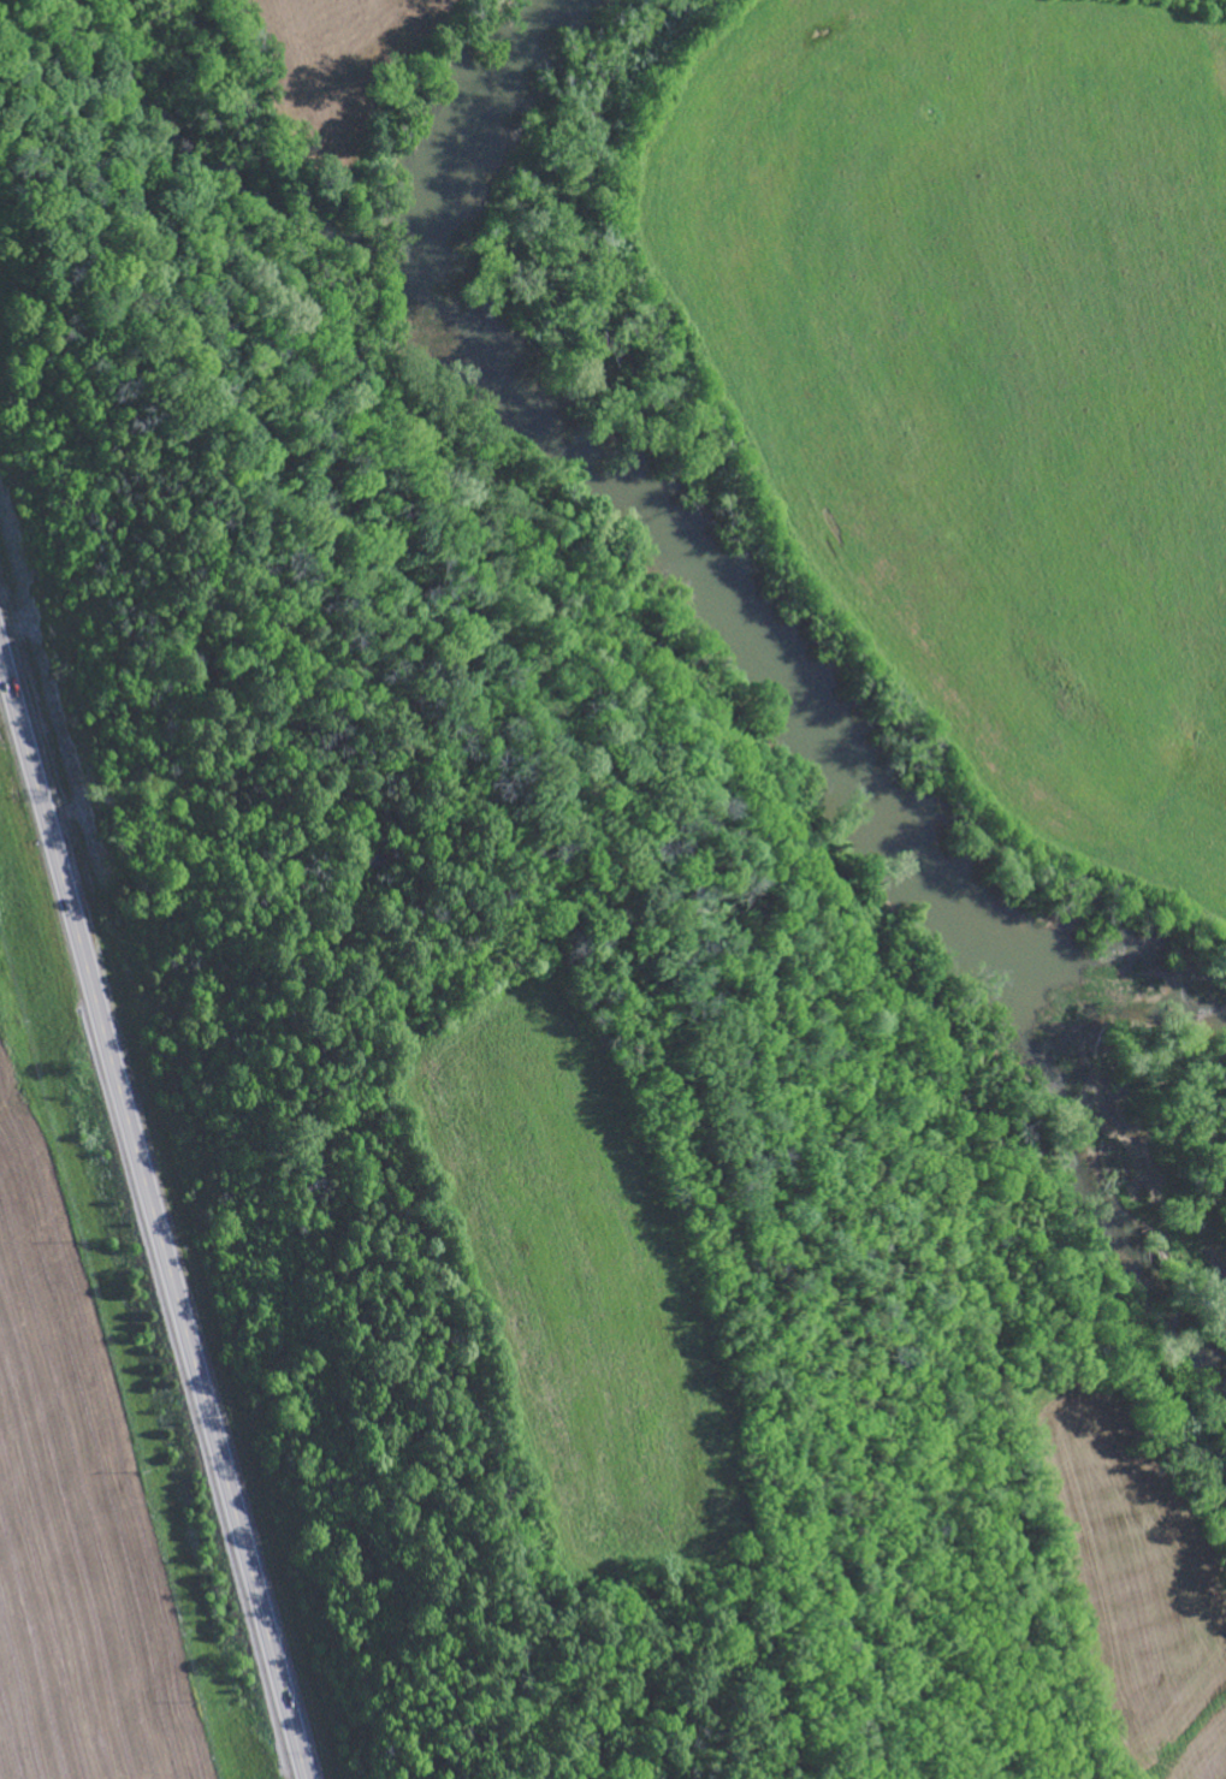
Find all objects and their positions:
river: (692, 571)
road: (152, 1205)

